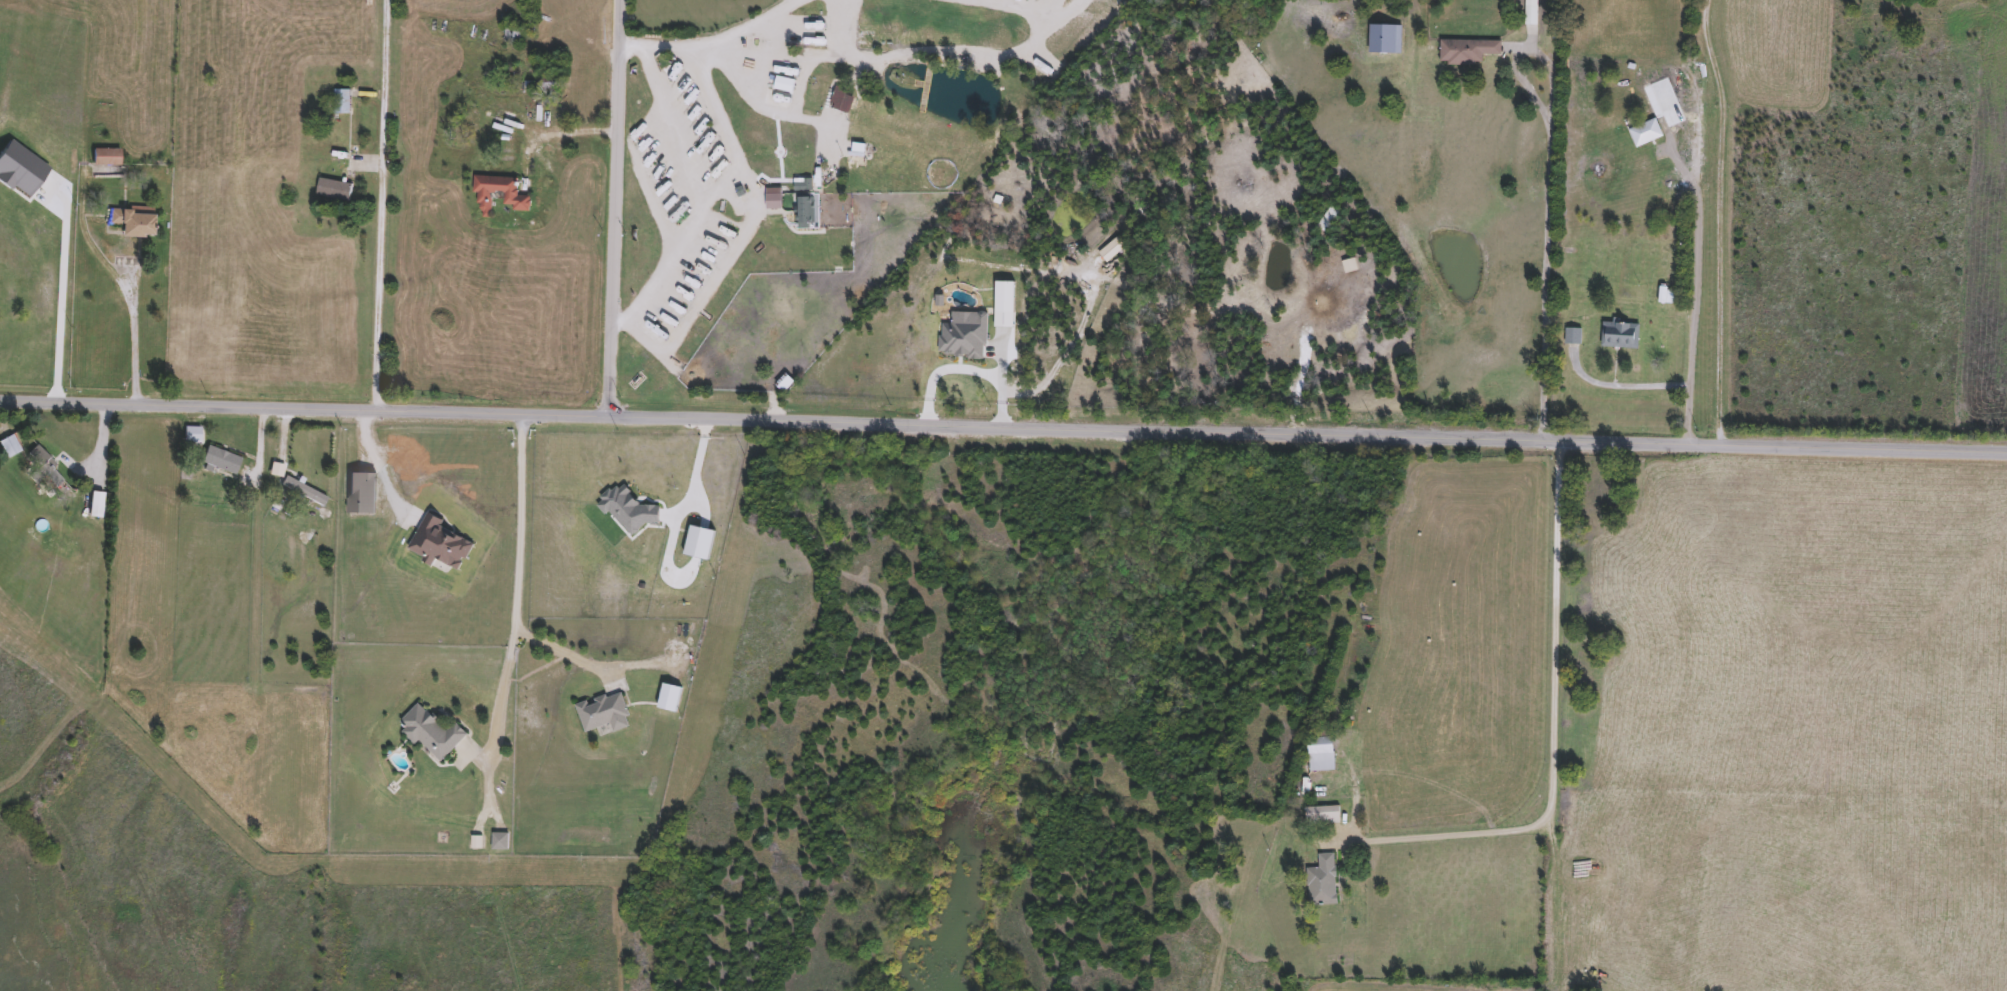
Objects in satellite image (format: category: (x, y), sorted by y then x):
road: (1048, 2)
building: (510, 35)
road: (714, 36)
road: (944, 47)
building: (1466, 51)
building: (782, 85)
building: (811, 93)
building: (834, 101)
building: (341, 102)
road: (781, 106)
building: (105, 157)
road: (1680, 166)
building: (332, 190)
road: (1550, 191)
building: (498, 195)
road: (62, 205)
road: (381, 207)
road: (614, 208)
building: (805, 209)
road: (1718, 220)
building: (130, 222)
building: (1666, 296)
road: (1692, 315)
road: (132, 335)
building: (1619, 336)
building: (1572, 337)
road: (667, 342)
road: (1068, 349)
road: (966, 369)
road: (1623, 385)
road: (1003, 437)
building: (8, 446)
building: (220, 460)
road: (381, 469)
building: (42, 470)
building: (302, 491)
road: (516, 583)
road: (559, 650)
building: (667, 697)
building: (602, 713)
building: (429, 732)
road: (1553, 735)
building: (1320, 753)
building: (1321, 814)
park: (251, 870)
building: (1321, 882)

